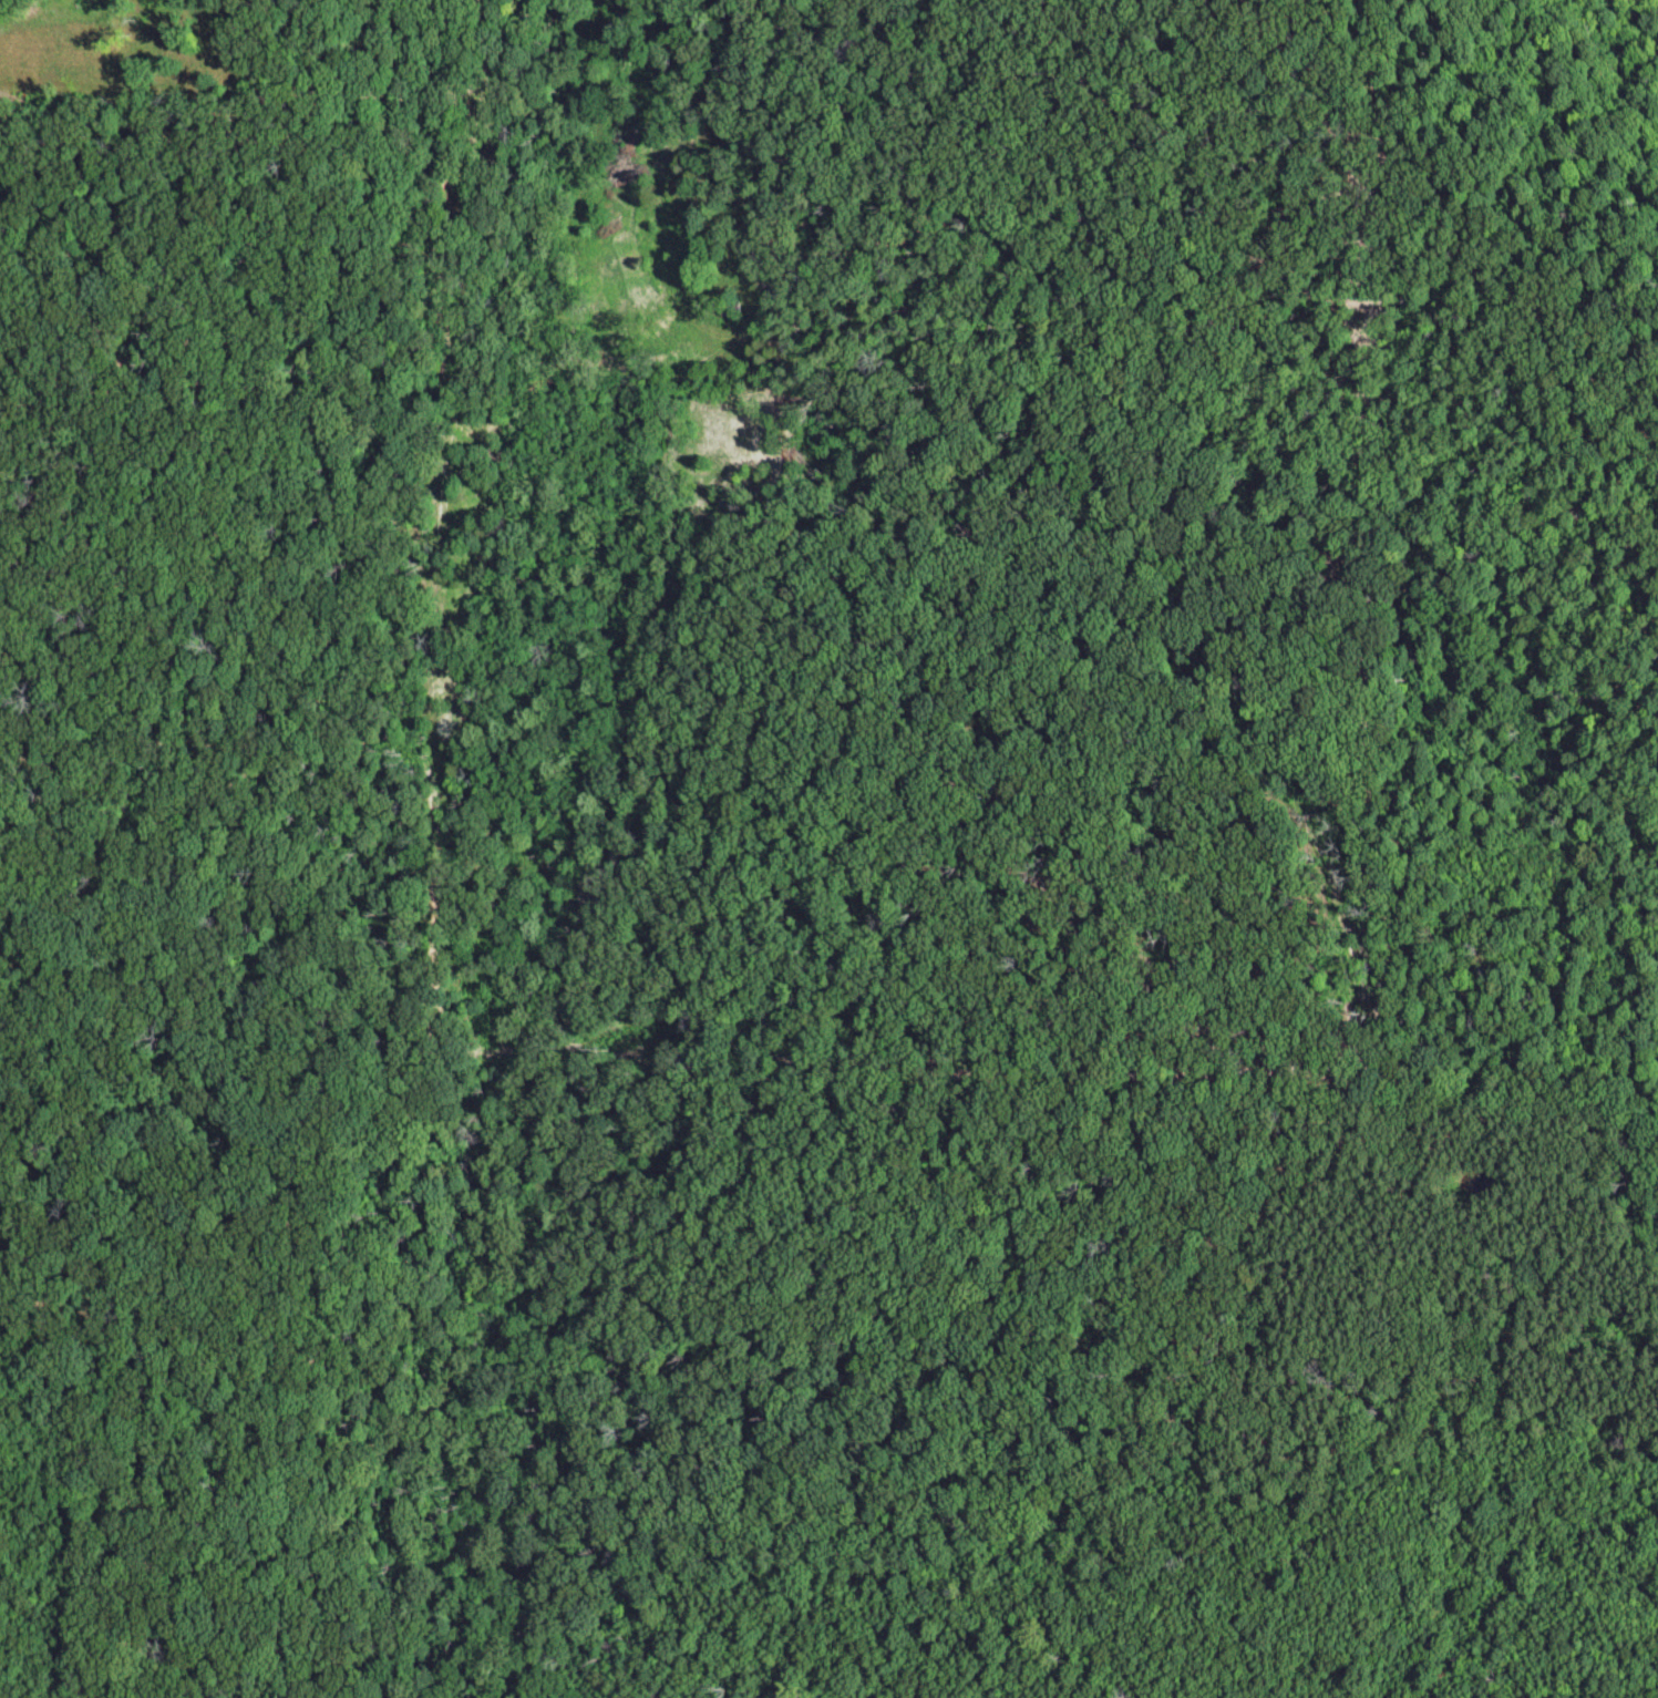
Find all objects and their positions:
road: (1484, 279)

